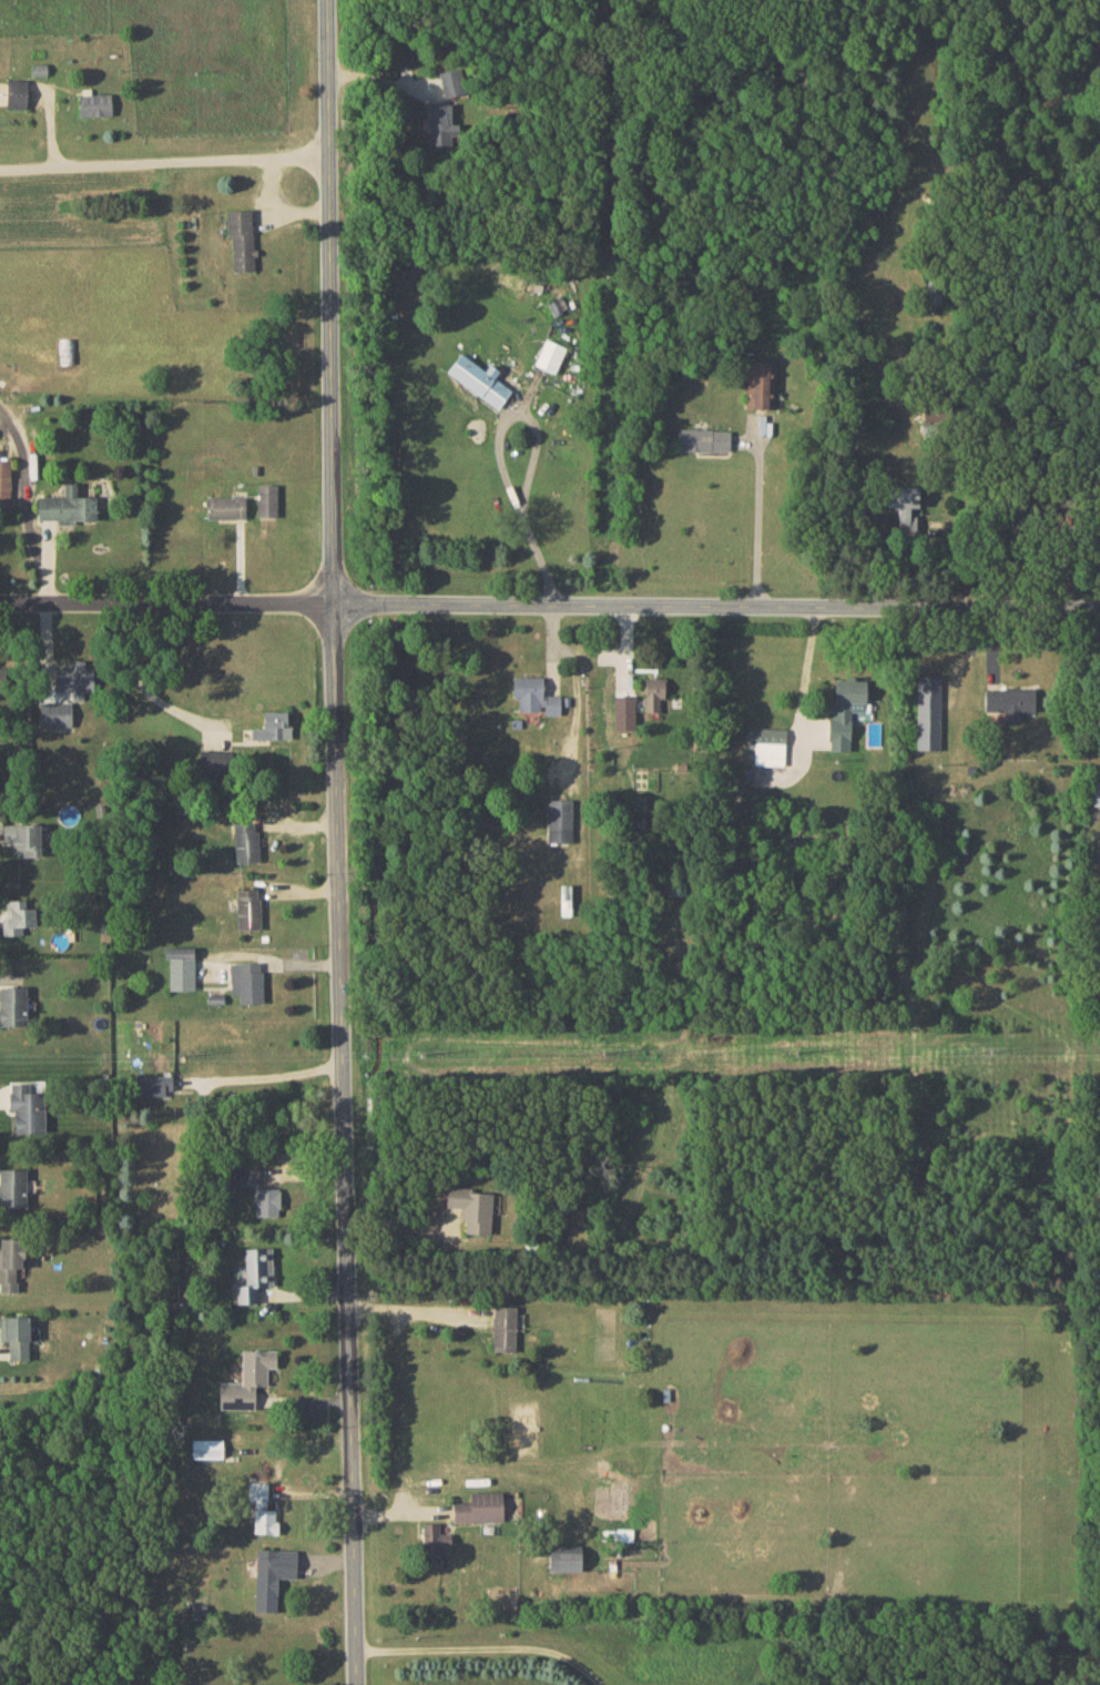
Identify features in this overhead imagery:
building: (39, 69)
building: (451, 82)
building: (17, 93)
building: (94, 103)
building: (441, 124)
road: (161, 153)
building: (241, 237)
building: (550, 355)
building: (479, 379)
building: (762, 383)
building: (703, 439)
road: (498, 453)
road: (27, 497)
building: (266, 500)
building: (903, 505)
building: (67, 506)
building: (225, 507)
road: (757, 518)
road: (164, 599)
road: (714, 608)
road: (804, 674)
building: (74, 677)
building: (1099, 692)
building: (534, 696)
building: (653, 696)
building: (1008, 701)
building: (844, 710)
building: (927, 711)
building: (54, 714)
building: (272, 725)
building: (764, 745)
building: (214, 762)
building: (1097, 793)
building: (559, 820)
building: (23, 838)
building: (245, 841)
road: (339, 842)
building: (247, 909)
building: (20, 916)
building: (180, 966)
building: (246, 981)
building: (12, 1005)
road: (272, 1077)
building: (152, 1085)
building: (27, 1108)
building: (244, 1174)
building: (12, 1187)
building: (267, 1201)
building: (471, 1208)
building: (10, 1262)
building: (254, 1273)
road: (412, 1303)
building: (503, 1328)
building: (17, 1337)
building: (247, 1379)
building: (206, 1448)
building: (479, 1506)
building: (262, 1509)
building: (432, 1544)
building: (563, 1557)
building: (272, 1575)
road: (482, 1648)

